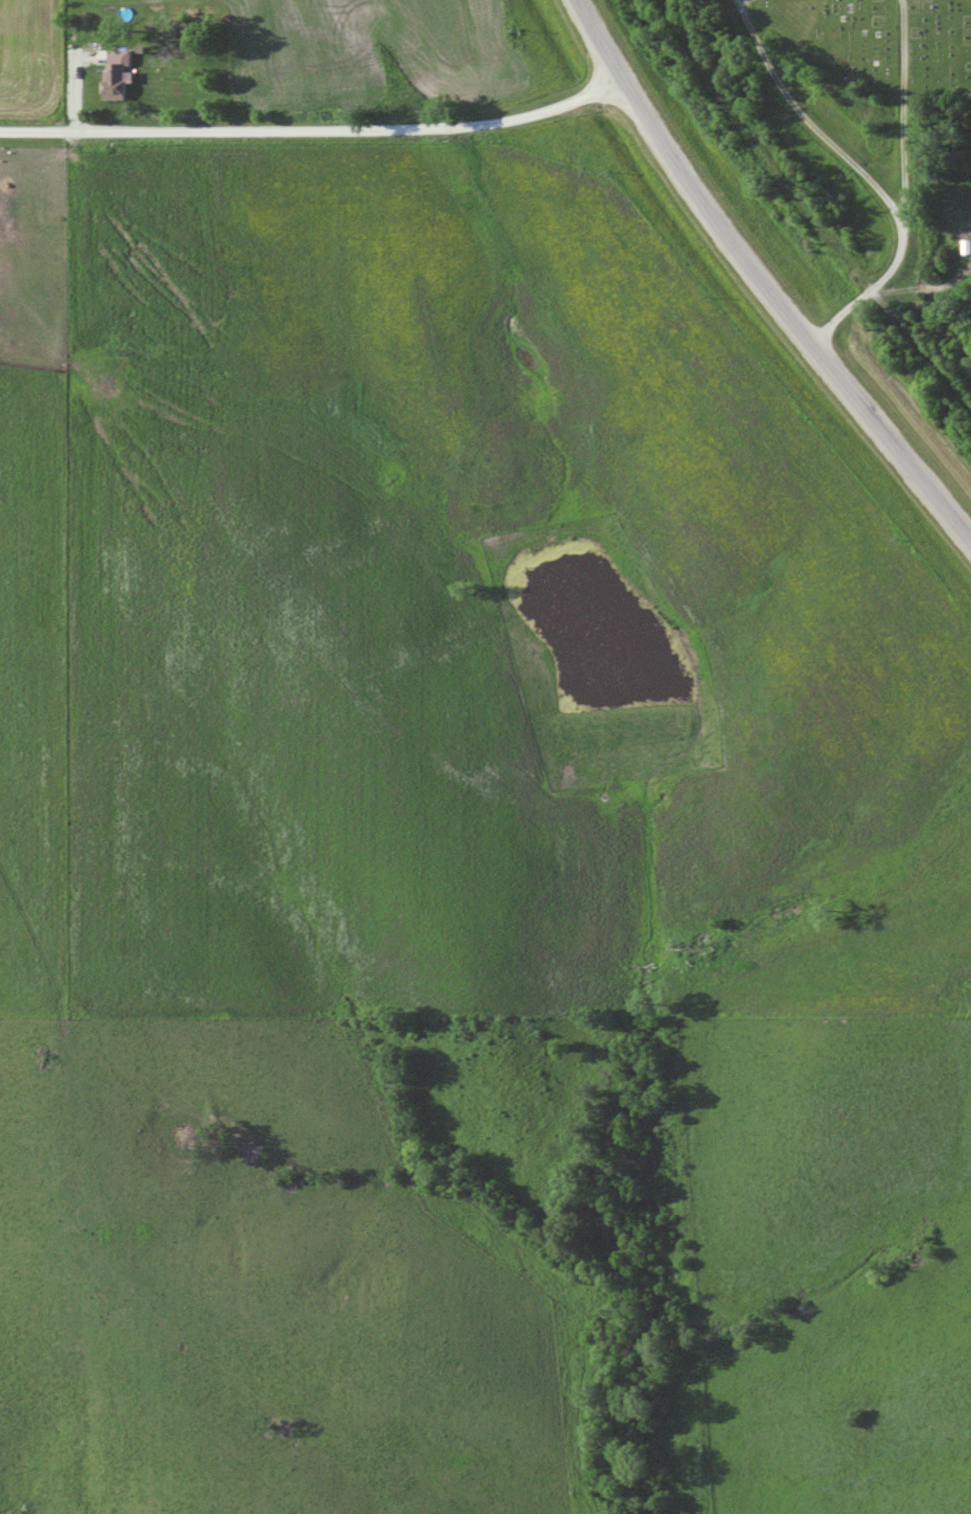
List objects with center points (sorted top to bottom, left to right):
road: (740, 1)
park: (844, 46)
building: (115, 77)
road: (807, 119)
road: (314, 128)
road: (905, 191)
road: (758, 281)

